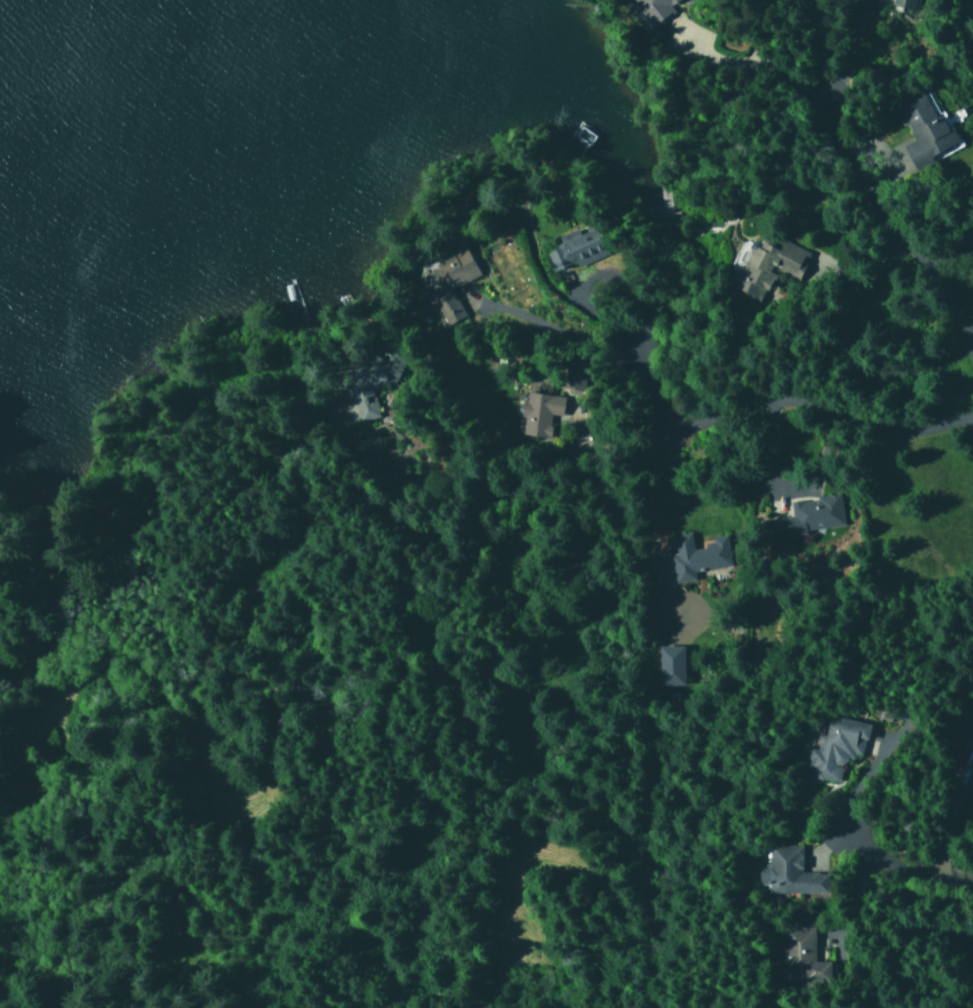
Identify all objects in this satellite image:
building: (902, 3)
building: (653, 8)
building: (923, 130)
road: (901, 219)
building: (576, 249)
building: (774, 266)
building: (447, 283)
building: (370, 383)
road: (647, 390)
road: (734, 412)
building: (536, 413)
building: (802, 516)
building: (695, 555)
building: (668, 664)
building: (969, 741)
building: (834, 747)
road: (904, 859)
building: (787, 872)
building: (800, 957)

